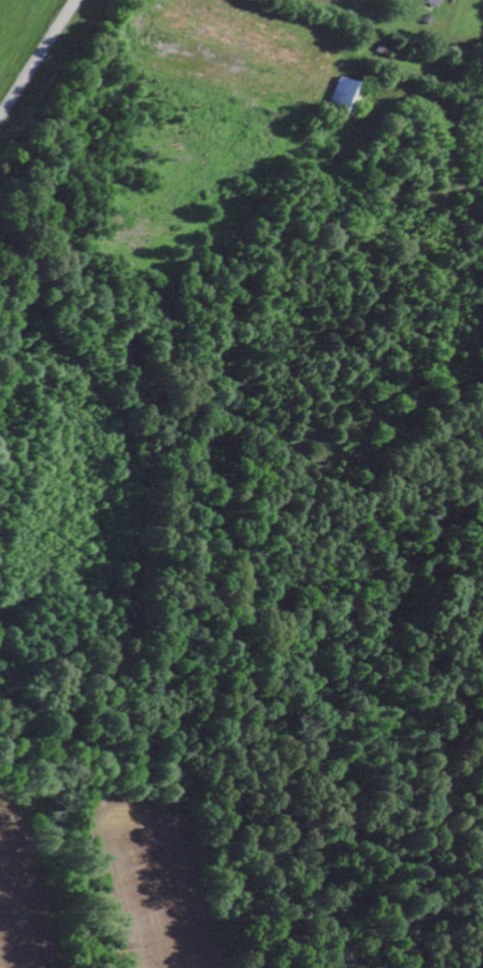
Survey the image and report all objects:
building: (436, 2)
road: (37, 58)
building: (348, 95)

